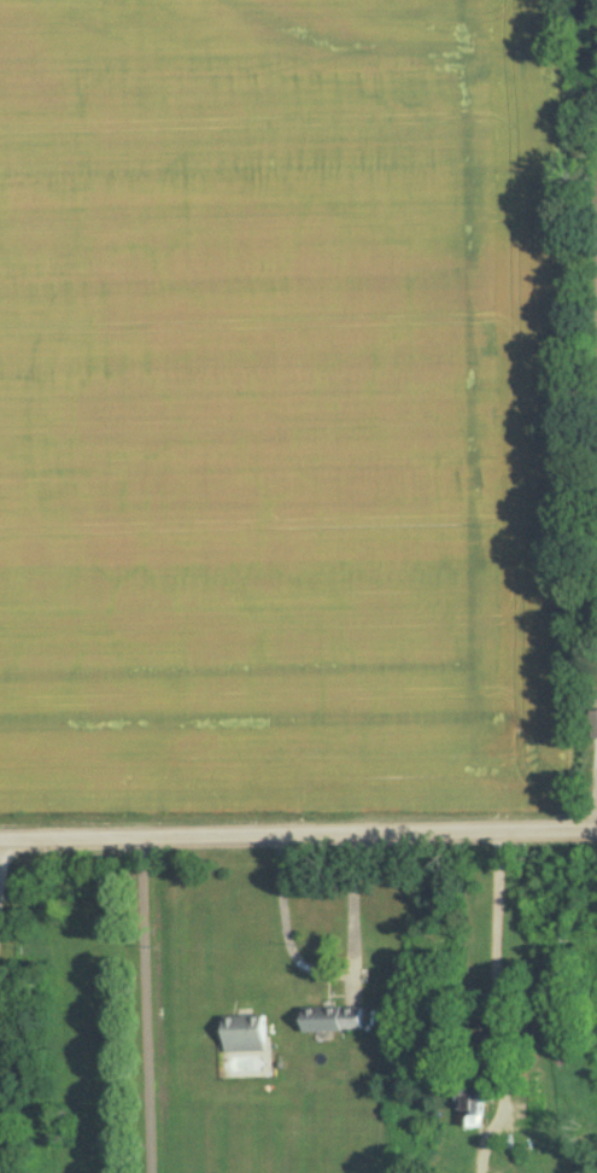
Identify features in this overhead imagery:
building: (595, 713)
road: (298, 828)
road: (330, 971)
road: (496, 1000)
road: (144, 1003)
building: (332, 1019)
building: (244, 1033)
building: (472, 1105)

